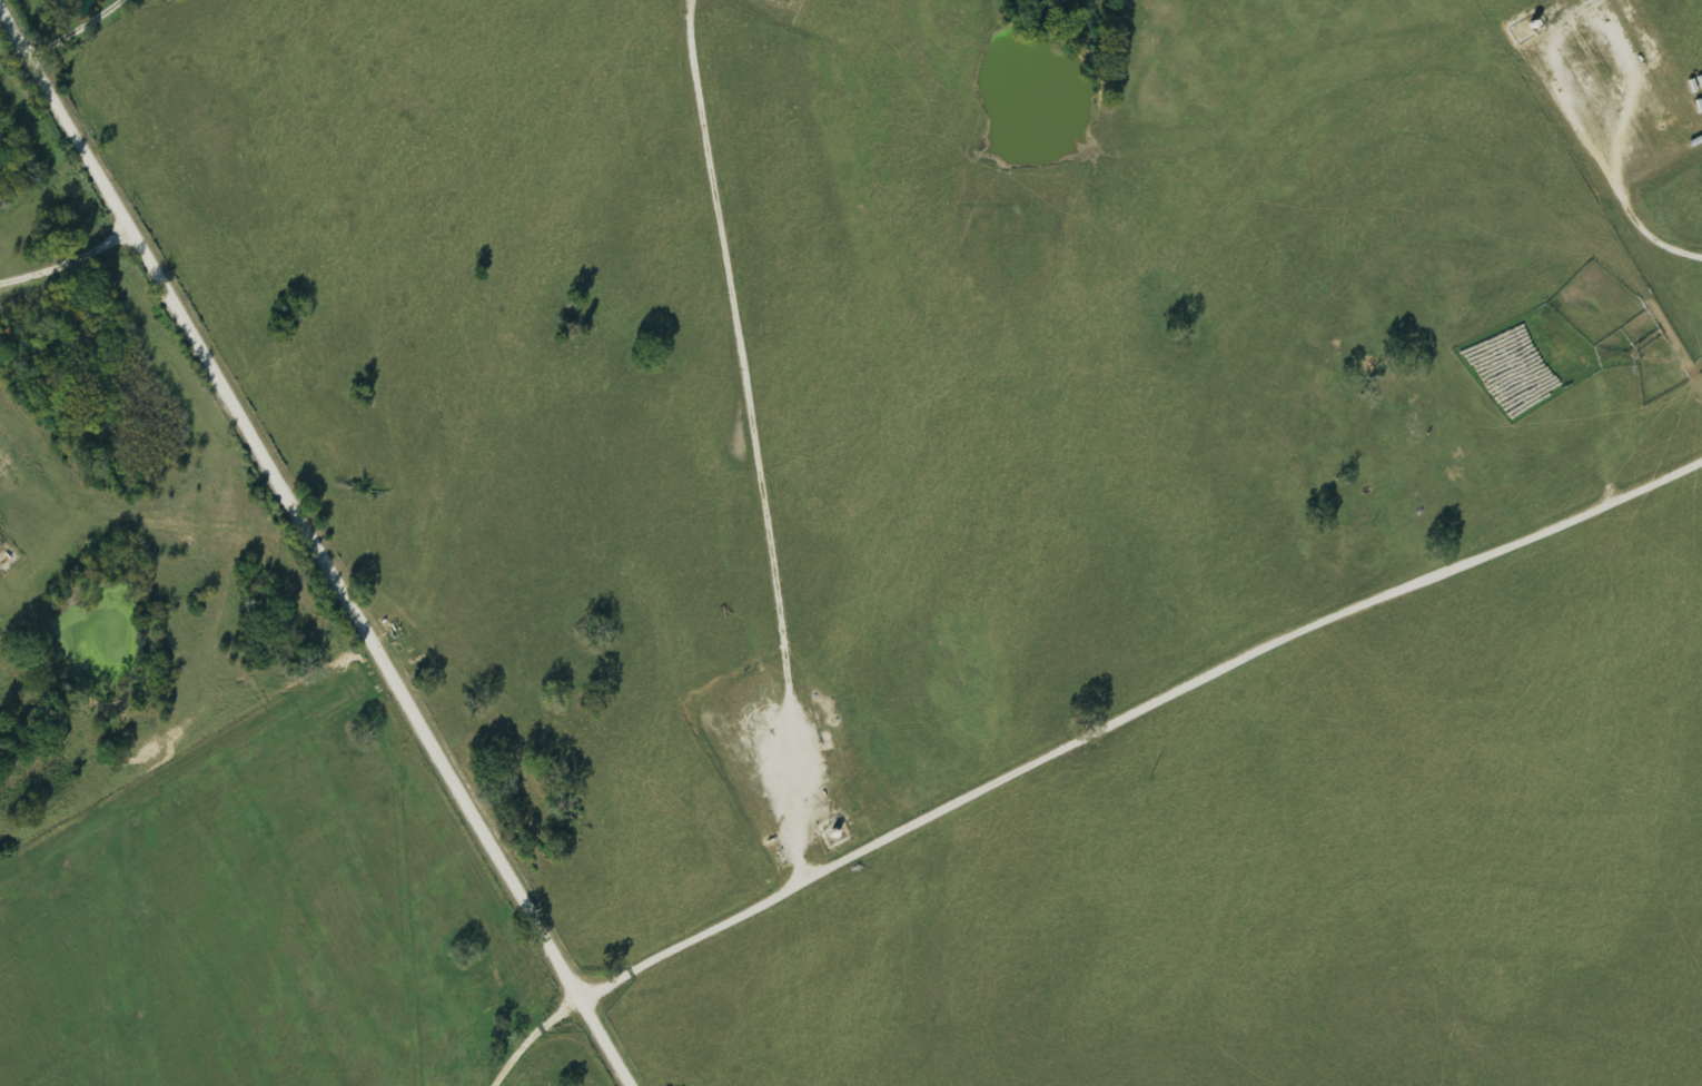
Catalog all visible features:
road: (72, 31)
road: (317, 550)

